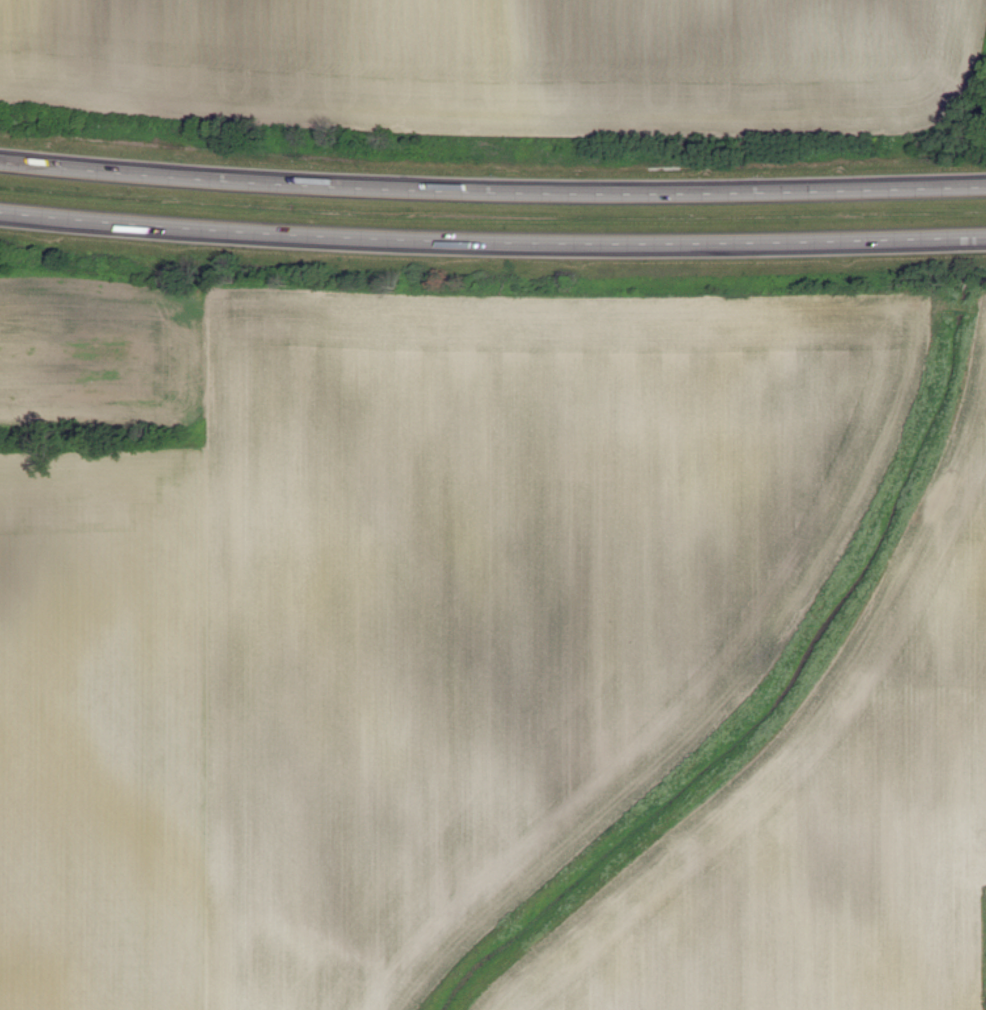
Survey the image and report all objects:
road: (492, 194)
road: (492, 243)

